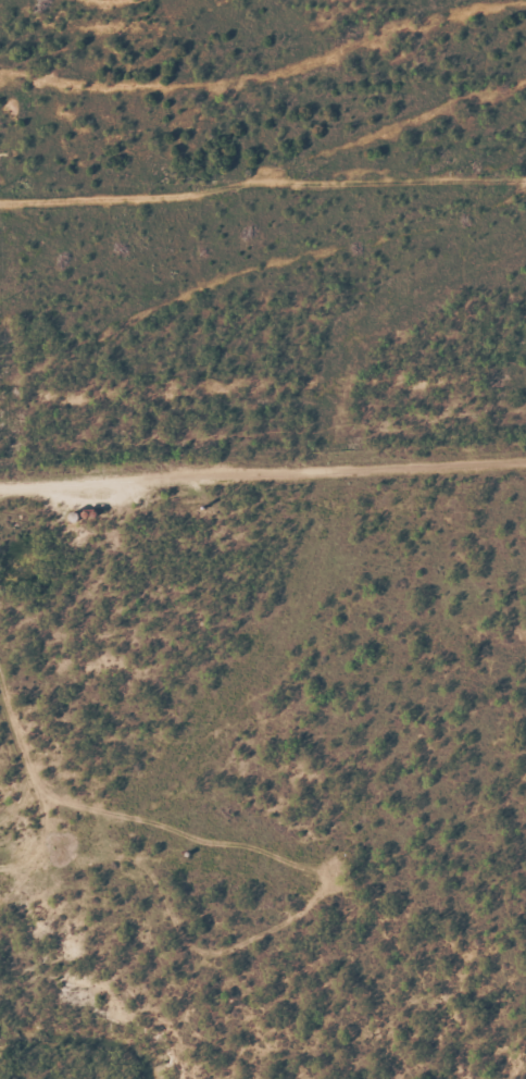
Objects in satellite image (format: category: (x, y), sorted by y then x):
road: (262, 488)

